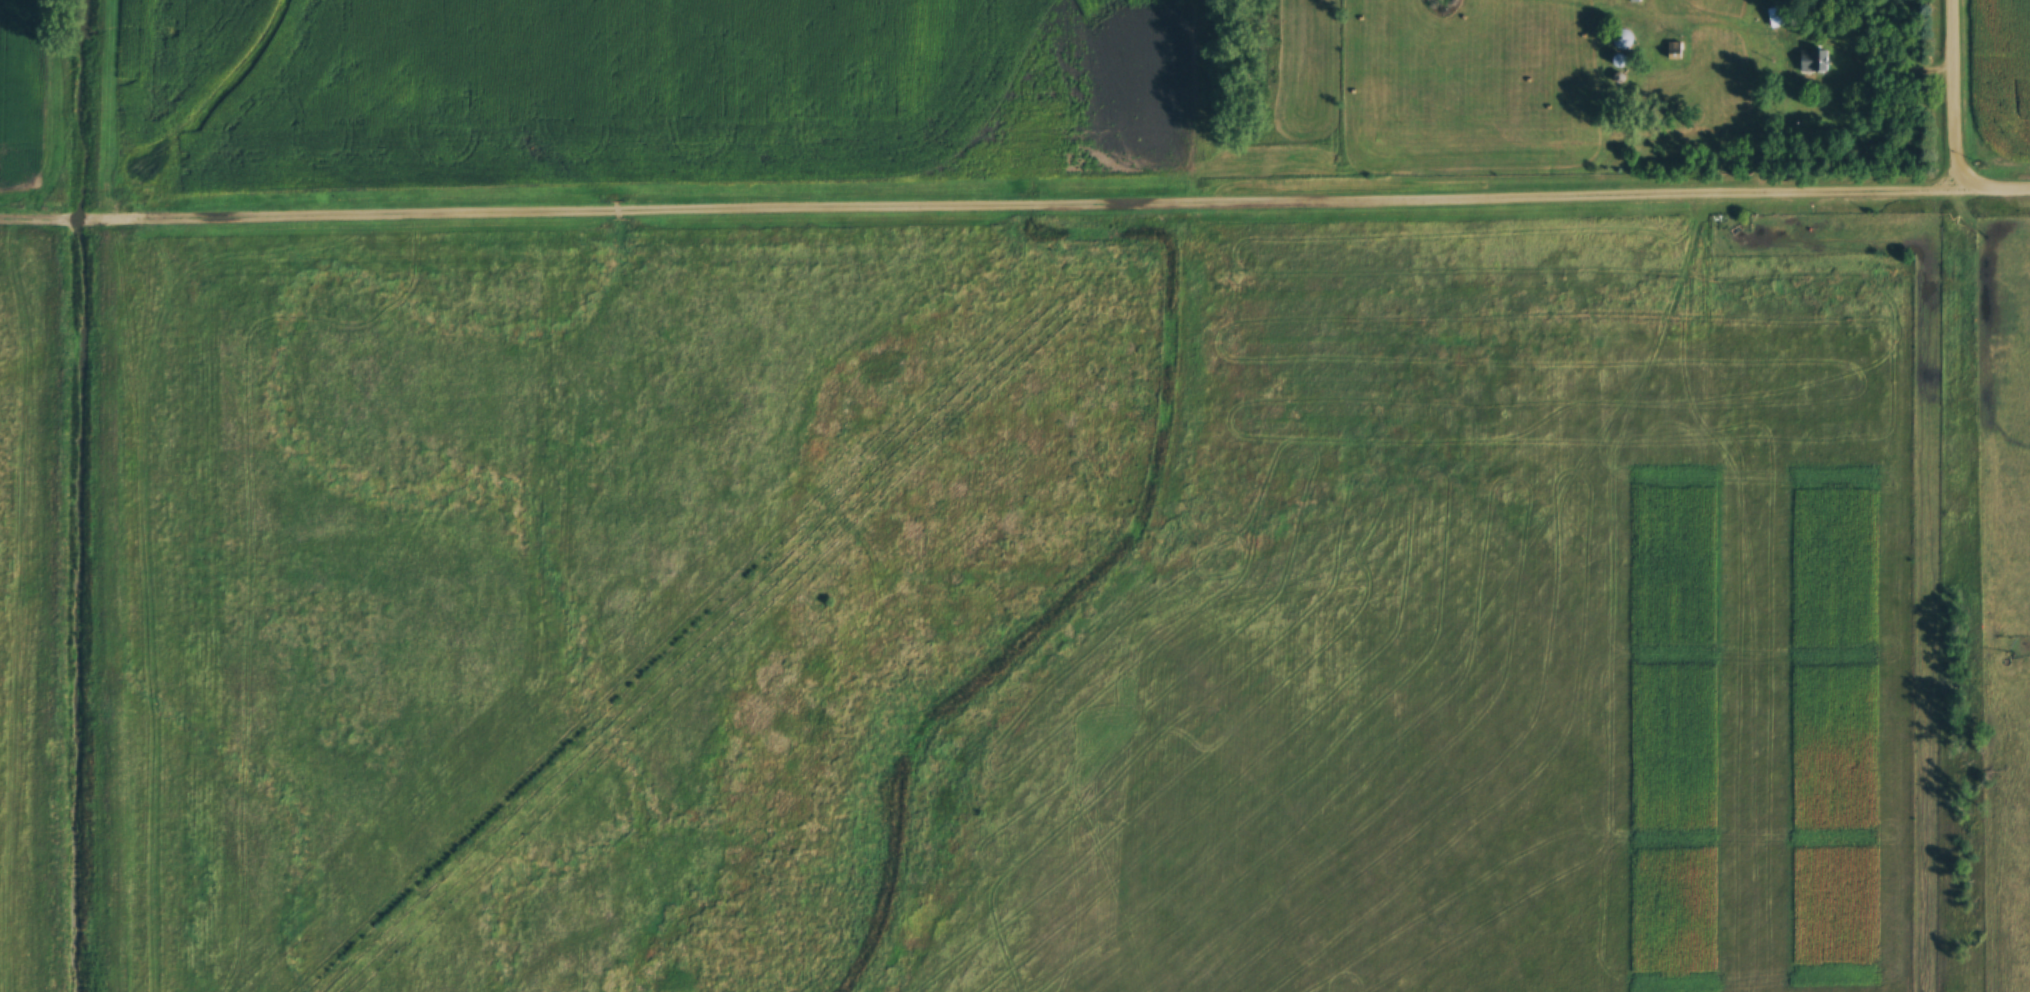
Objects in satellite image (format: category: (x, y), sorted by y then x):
building: (1779, 18)
road: (1955, 32)
road: (1794, 38)
building: (1621, 40)
building: (1812, 62)
road: (1957, 125)
road: (1015, 202)

